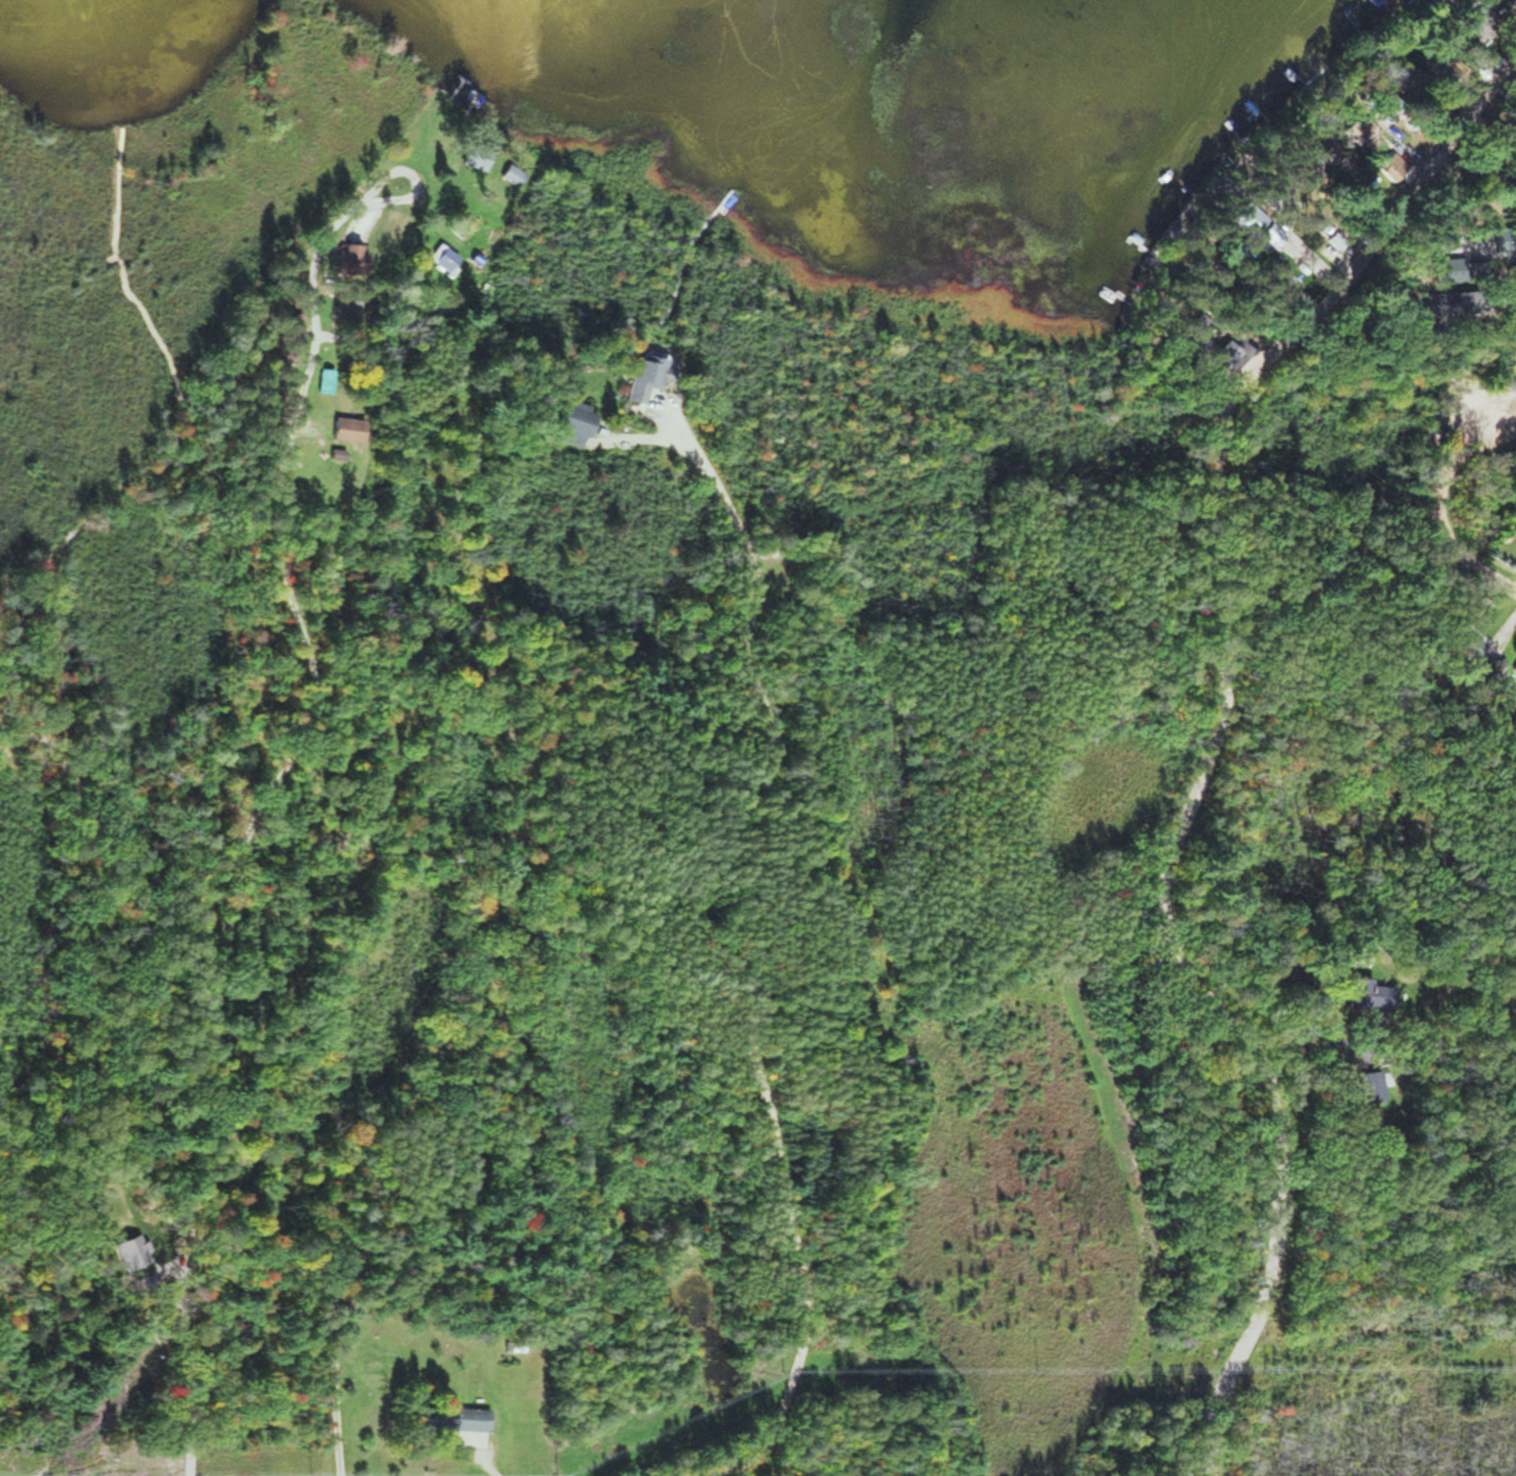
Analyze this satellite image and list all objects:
building: (1381, 111)
building: (1356, 131)
building: (471, 156)
building: (1385, 166)
building: (1293, 172)
building: (1480, 178)
road: (441, 210)
building: (1250, 227)
building: (345, 258)
building: (445, 258)
building: (1279, 300)
building: (1441, 303)
building: (289, 323)
building: (639, 377)
building: (566, 422)
building: (342, 429)
road: (1445, 487)
building: (1505, 547)
building: (1461, 638)
road: (1216, 739)
road: (228, 913)
building: (1363, 993)
building: (1366, 1084)
building: (448, 1417)

